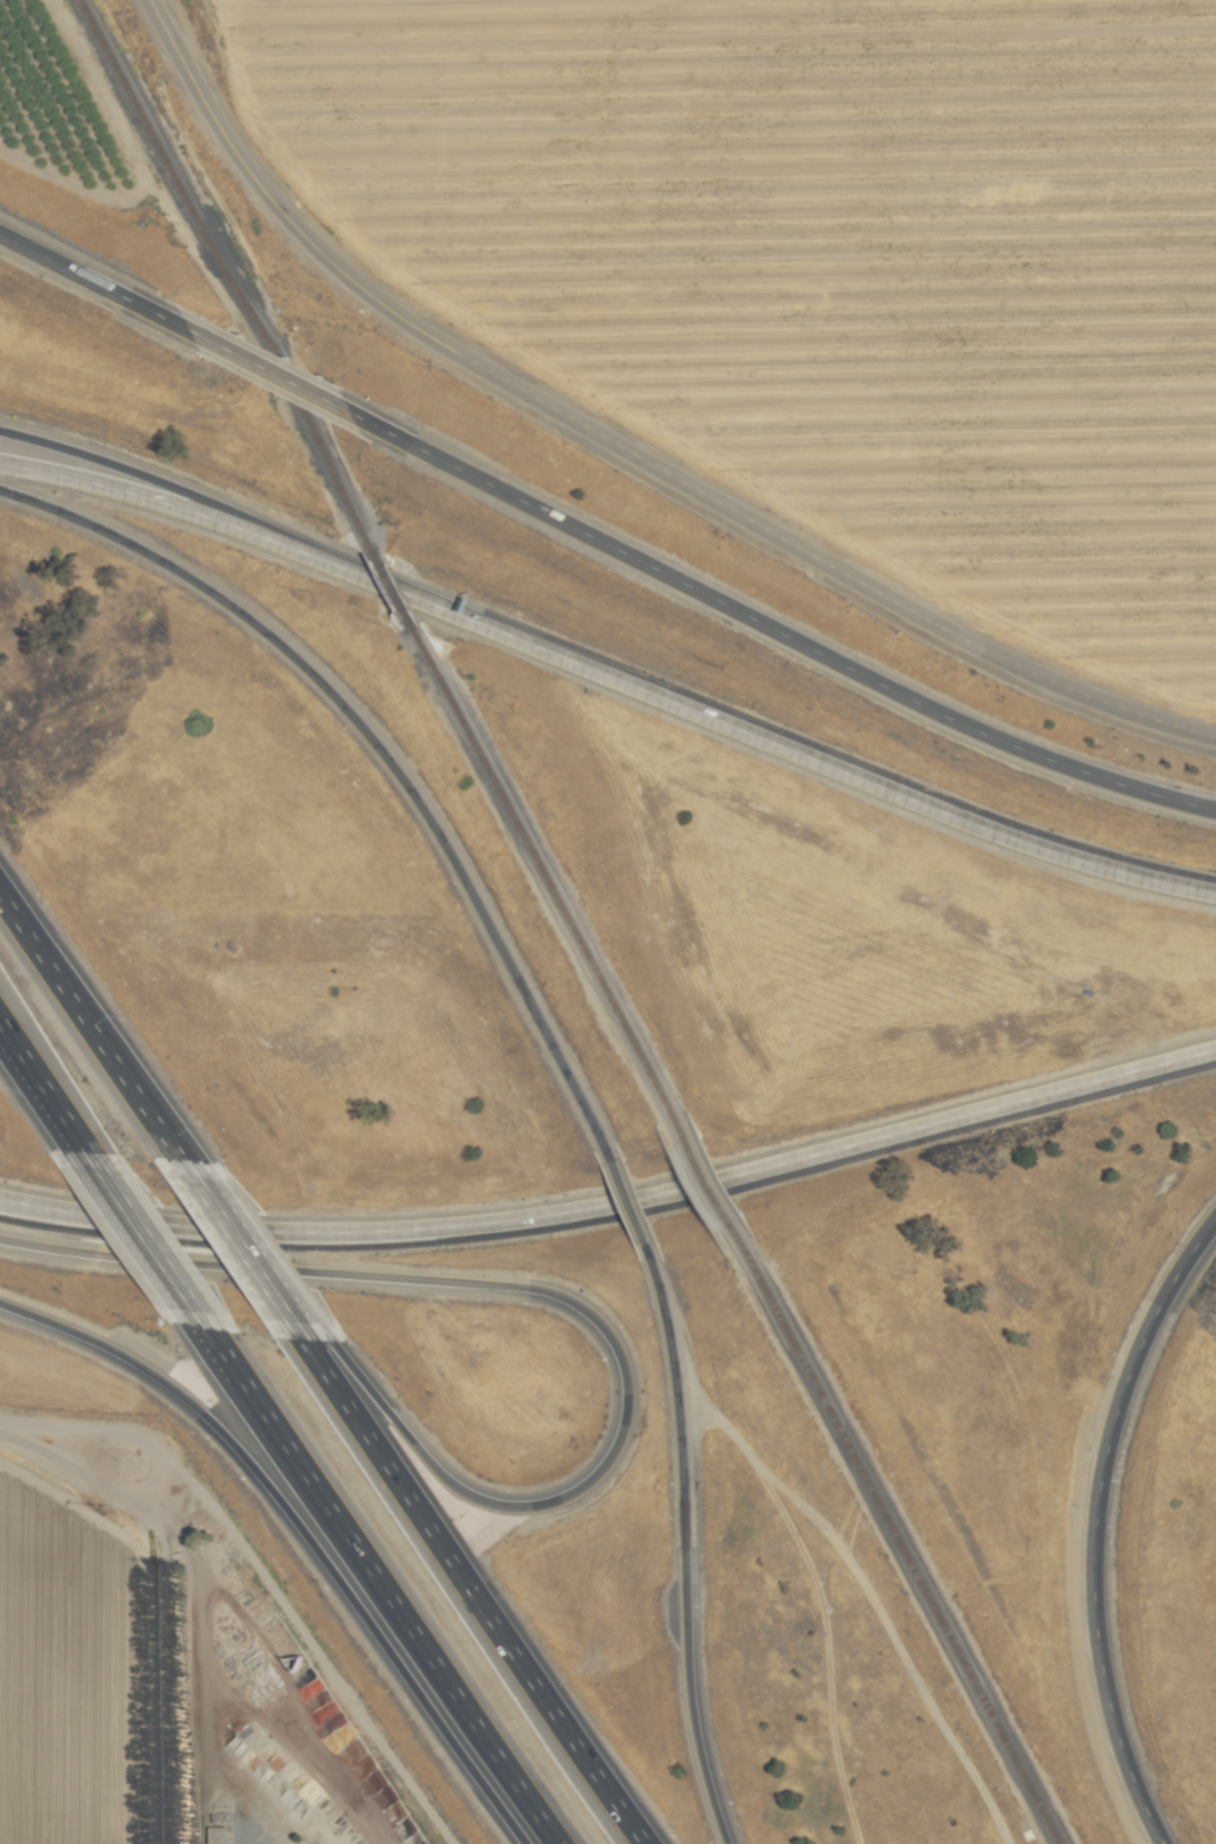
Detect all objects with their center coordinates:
railway: (224, 274)
road: (93, 282)
road: (287, 379)
road: (617, 447)
road: (130, 475)
road: (129, 491)
railway: (392, 589)
road: (794, 640)
road: (731, 726)
road: (378, 759)
railway: (544, 877)
road: (101, 1028)
road: (40, 1107)
road: (176, 1127)
railway: (708, 1184)
road: (615, 1201)
road: (632, 1208)
road: (129, 1235)
road: (247, 1250)
road: (272, 1254)
road: (1184, 1258)
road: (565, 1297)
road: (73, 1451)
road: (245, 1463)
railway: (898, 1545)
road: (683, 1549)
road: (1092, 1572)
road: (354, 1575)
road: (469, 1583)
road: (863, 1595)
road: (313, 1640)
road: (196, 1652)

